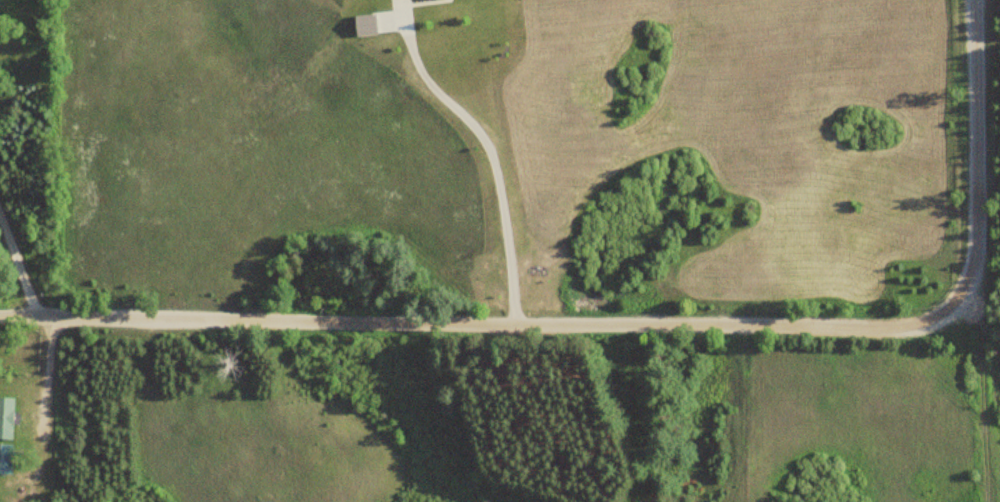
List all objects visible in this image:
road: (977, 150)
road: (18, 263)
road: (483, 321)
building: (5, 418)

